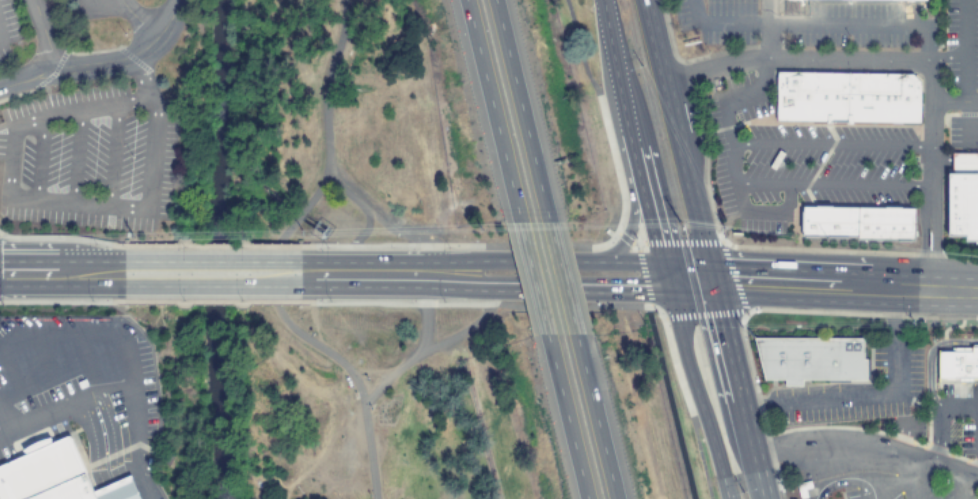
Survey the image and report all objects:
building: (865, 0)
parking lot: (147, 12)
road: (132, 20)
parking lot: (720, 21)
parking lot: (8, 34)
road: (41, 35)
road: (927, 60)
road: (101, 62)
road: (748, 64)
building: (844, 96)
road: (954, 101)
road: (492, 111)
road: (520, 111)
parking lot: (961, 131)
road: (635, 140)
road: (616, 141)
road: (110, 153)
road: (74, 156)
parking lot: (89, 157)
road: (36, 158)
building: (961, 198)
road: (47, 201)
road: (620, 205)
road: (377, 219)
building: (854, 225)
road: (356, 241)
river: (205, 249)
road: (704, 249)
road: (922, 249)
road: (935, 249)
road: (271, 257)
road: (521, 262)
road: (435, 264)
road: (633, 264)
road: (61, 274)
road: (211, 274)
road: (325, 274)
road: (394, 274)
road: (445, 275)
road: (532, 279)
road: (562, 279)
traffic signals: (669, 282)
traffic signals: (712, 282)
road: (823, 286)
road: (560, 288)
road: (425, 314)
road: (664, 322)
street lamp: (311, 334)
road: (51, 342)
road: (433, 347)
road: (929, 357)
building: (808, 359)
building: (957, 364)
street lamp: (366, 380)
parking lot: (908, 382)
road: (697, 390)
road: (117, 393)
road: (848, 400)
street lamp: (370, 409)
road: (565, 417)
road: (596, 417)
parking lot: (959, 417)
road: (939, 421)
road: (112, 439)
road: (92, 446)
road: (869, 450)
building: (61, 474)
road: (913, 478)
road: (845, 481)
road: (897, 487)
road: (960, 488)
road: (123, 489)
road: (106, 492)
parking lot: (941, 492)
parking lot: (857, 494)
street lamp: (369, 496)
parking lot: (896, 496)
parking lot: (973, 496)

